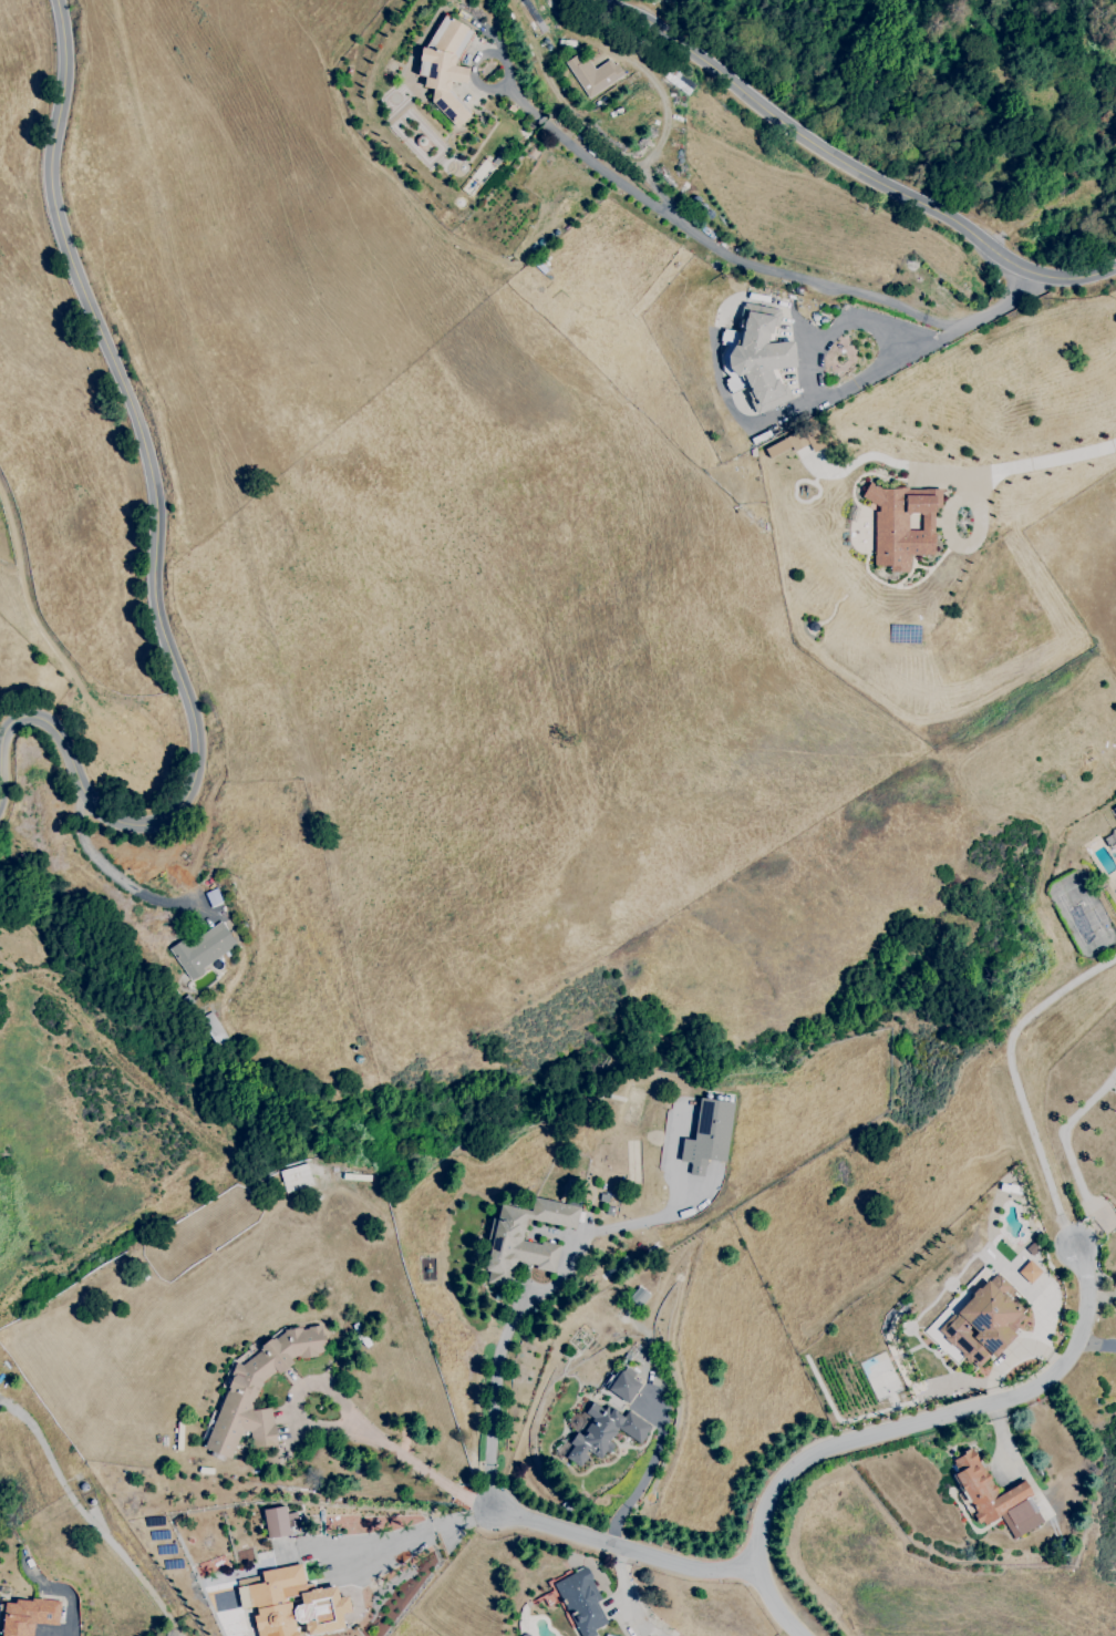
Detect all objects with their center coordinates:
building: (444, 68)
building: (592, 74)
road: (666, 125)
road: (848, 165)
road: (745, 260)
road: (838, 327)
building: (761, 357)
road: (812, 401)
building: (793, 443)
road: (1030, 469)
building: (902, 524)
road: (155, 553)
building: (203, 949)
road: (1016, 1080)
building: (707, 1135)
road: (1073, 1162)
building: (516, 1243)
building: (1029, 1272)
road: (549, 1282)
road: (1104, 1297)
building: (982, 1320)
road: (1097, 1341)
building: (622, 1387)
building: (258, 1389)
road: (297, 1395)
road: (898, 1424)
building: (602, 1432)
road: (1003, 1437)
road: (421, 1469)
road: (645, 1476)
building: (994, 1498)
road: (93, 1513)
building: (280, 1522)
road: (550, 1527)
road: (70, 1598)
building: (293, 1604)
building: (581, 1604)
building: (352, 1618)
road: (182, 1634)

